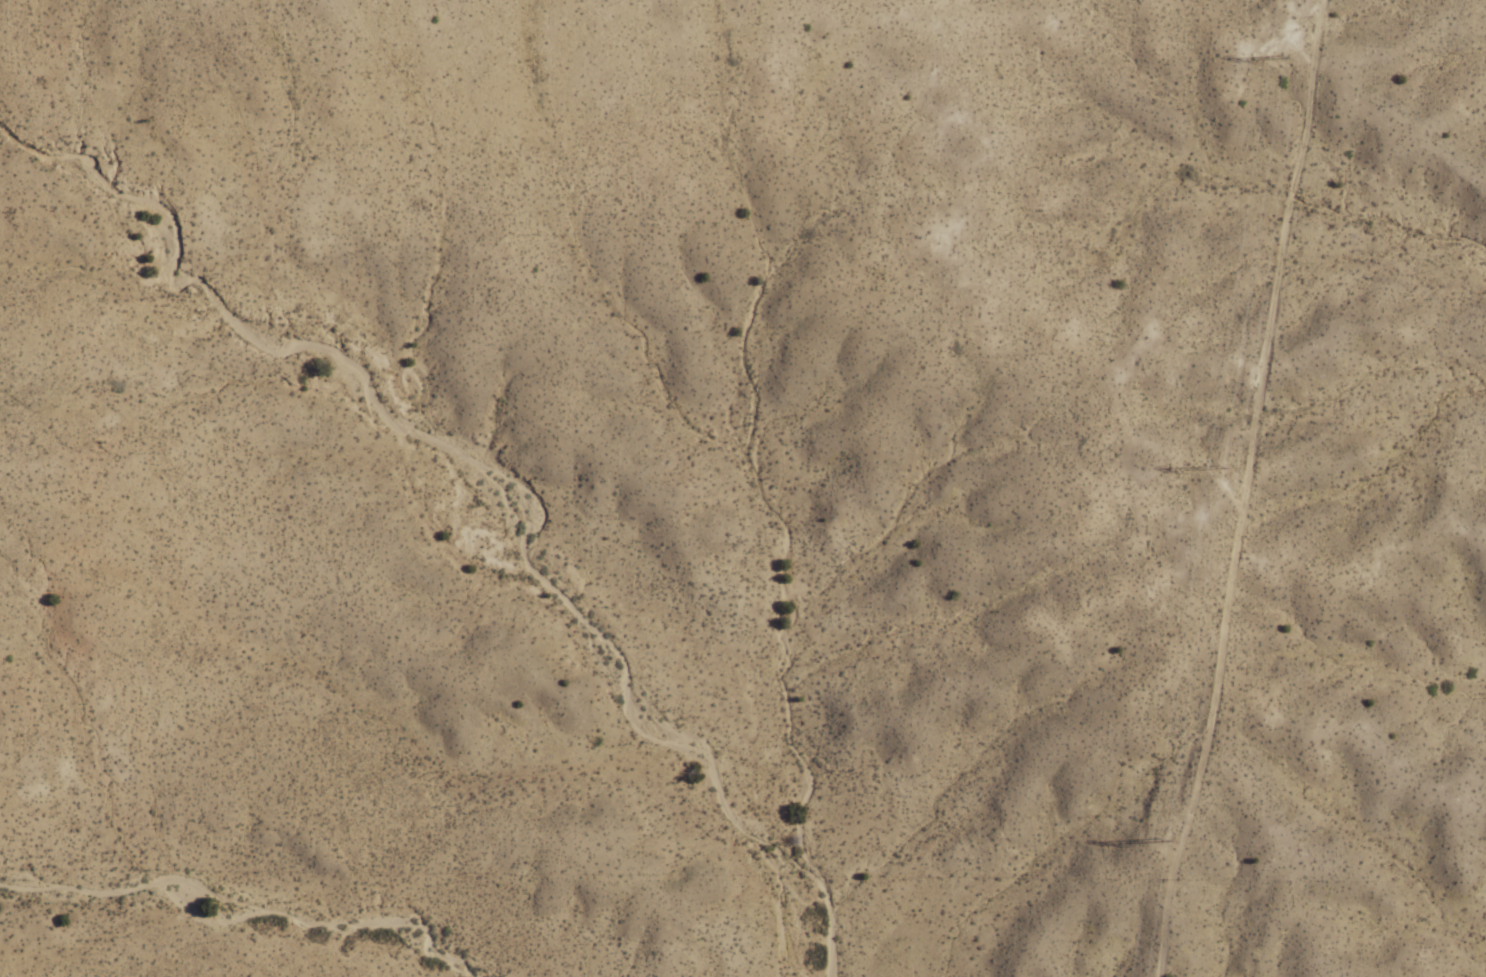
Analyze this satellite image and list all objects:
power tower: (1290, 56)
power tower: (1228, 465)
power tower: (1170, 838)

